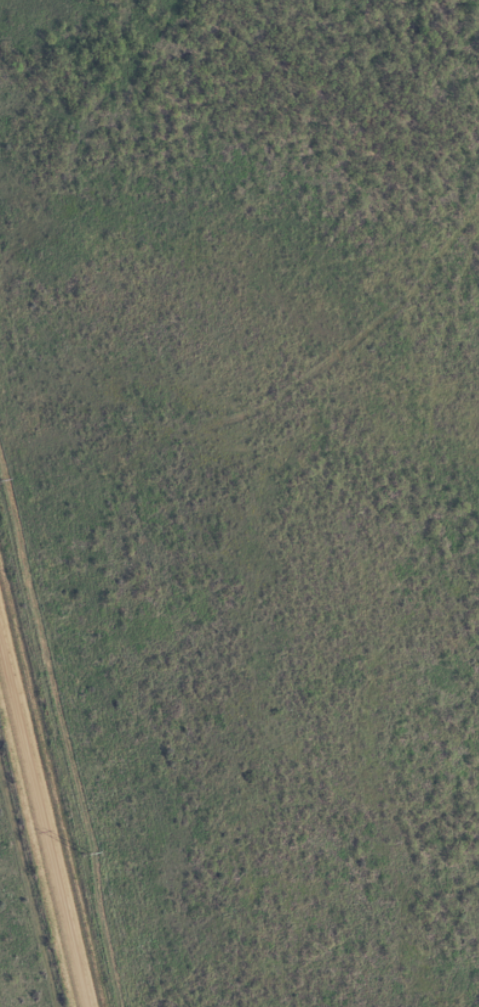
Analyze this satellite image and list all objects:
road: (26, 898)

